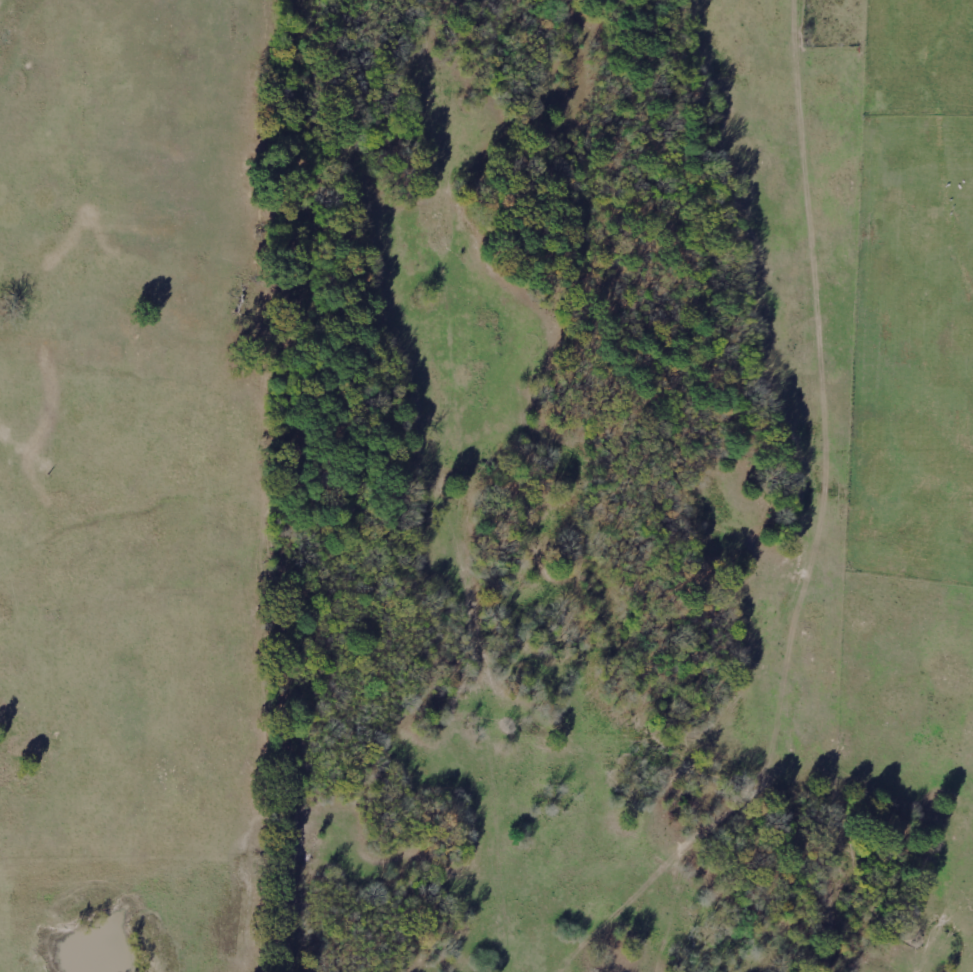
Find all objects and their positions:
road: (273, 44)

